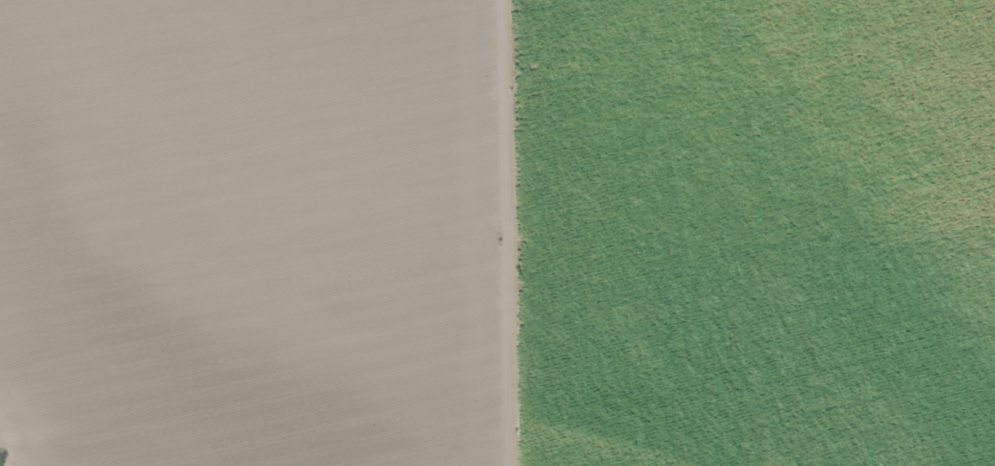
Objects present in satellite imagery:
road: (500, 233)

